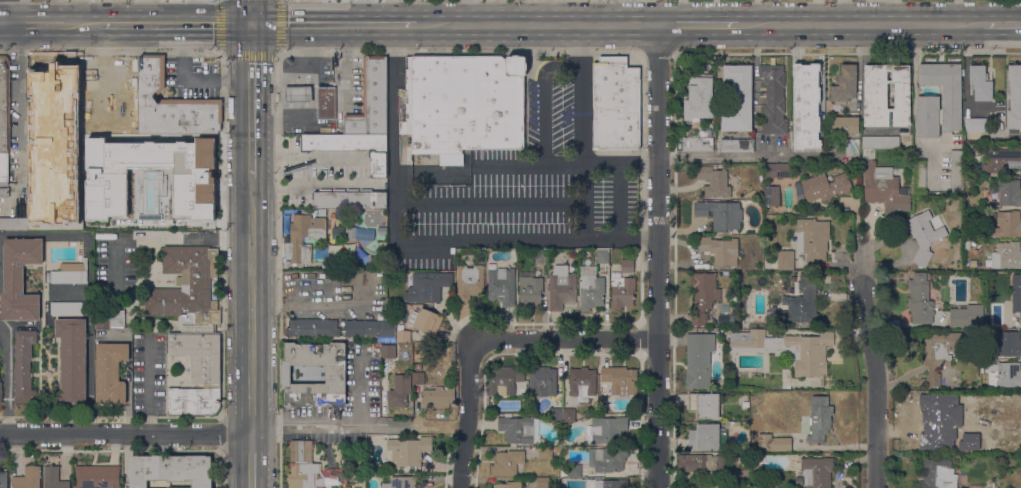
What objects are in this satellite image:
road: (6, 12)
road: (251, 12)
road: (365, 12)
road: (955, 12)
road: (53, 13)
road: (464, 13)
road: (547, 13)
road: (597, 13)
road: (611, 13)
road: (3, 25)
road: (51, 25)
road: (174, 25)
traffic signals: (251, 25)
road: (333, 25)
road: (858, 25)
road: (1001, 25)
road: (536, 26)
road: (697, 26)
road: (250, 51)
road: (559, 66)
building: (708, 67)
road: (191, 79)
building: (980, 83)
building: (844, 85)
building: (298, 95)
road: (581, 95)
building: (886, 95)
building: (1014, 97)
road: (19, 98)
building: (738, 99)
road: (250, 100)
building: (699, 100)
building: (773, 100)
building: (371, 101)
building: (927, 101)
building: (326, 103)
building: (615, 104)
building: (172, 105)
building: (464, 105)
building: (806, 107)
building: (49, 113)
building: (4, 118)
building: (123, 118)
road: (544, 122)
building: (977, 125)
building: (845, 126)
building: (88, 131)
building: (198, 142)
building: (698, 142)
building: (880, 142)
building: (151, 144)
building: (41, 145)
building: (736, 145)
building: (351, 148)
building: (851, 148)
building: (956, 156)
road: (722, 157)
building: (1001, 160)
road: (529, 166)
building: (778, 170)
building: (65, 172)
building: (113, 176)
building: (919, 176)
building: (713, 181)
building: (825, 187)
building: (884, 187)
building: (4, 192)
building: (1009, 192)
building: (771, 196)
building: (144, 197)
building: (349, 199)
road: (454, 205)
building: (56, 210)
building: (321, 212)
building: (720, 215)
building: (13, 224)
building: (196, 224)
building: (1006, 224)
building: (384, 231)
road: (40, 234)
building: (924, 237)
building: (319, 238)
road: (472, 238)
road: (603, 238)
building: (812, 239)
road: (157, 240)
building: (720, 250)
building: (541, 256)
building: (602, 256)
road: (658, 256)
building: (1006, 256)
building: (785, 260)
building: (627, 266)
road: (863, 269)
building: (70, 274)
building: (19, 279)
building: (792, 279)
building: (469, 282)
building: (501, 286)
building: (423, 288)
building: (561, 288)
building: (590, 288)
building: (186, 289)
building: (529, 289)
building: (621, 291)
building: (1016, 292)
building: (703, 296)
building: (733, 298)
building: (920, 300)
building: (797, 303)
road: (251, 305)
building: (66, 308)
building: (966, 317)
building: (109, 319)
building: (425, 321)
building: (312, 328)
building: (370, 328)
building: (403, 336)
road: (566, 339)
building: (1005, 345)
building: (787, 349)
building: (388, 352)
building: (942, 353)
building: (71, 360)
building: (698, 360)
building: (417, 366)
building: (23, 367)
building: (110, 373)
building: (196, 374)
building: (335, 375)
building: (1005, 376)
building: (418, 378)
building: (620, 380)
building: (502, 381)
building: (542, 381)
road: (6, 383)
building: (582, 383)
road: (149, 385)
road: (876, 386)
building: (522, 388)
building: (0, 392)
building: (399, 392)
building: (438, 397)
building: (745, 403)
building: (703, 405)
road: (467, 414)
building: (556, 415)
building: (569, 415)
building: (943, 415)
building: (819, 419)
road: (359, 425)
building: (519, 430)
building: (605, 430)
road: (125, 436)
building: (707, 438)
building: (774, 443)
building: (968, 444)
building: (995, 447)
building: (408, 451)
building: (545, 453)
building: (606, 460)
road: (251, 461)
building: (743, 462)
building: (507, 463)
building: (701, 463)
building: (303, 467)
building: (171, 470)
building: (571, 471)
building: (814, 473)
building: (938, 474)
building: (97, 477)
building: (27, 478)
building: (54, 478)
building: (3, 480)
building: (401, 482)
building: (543, 483)
building: (607, 484)
building: (508, 485)
building: (988, 485)
building: (706, 487)

